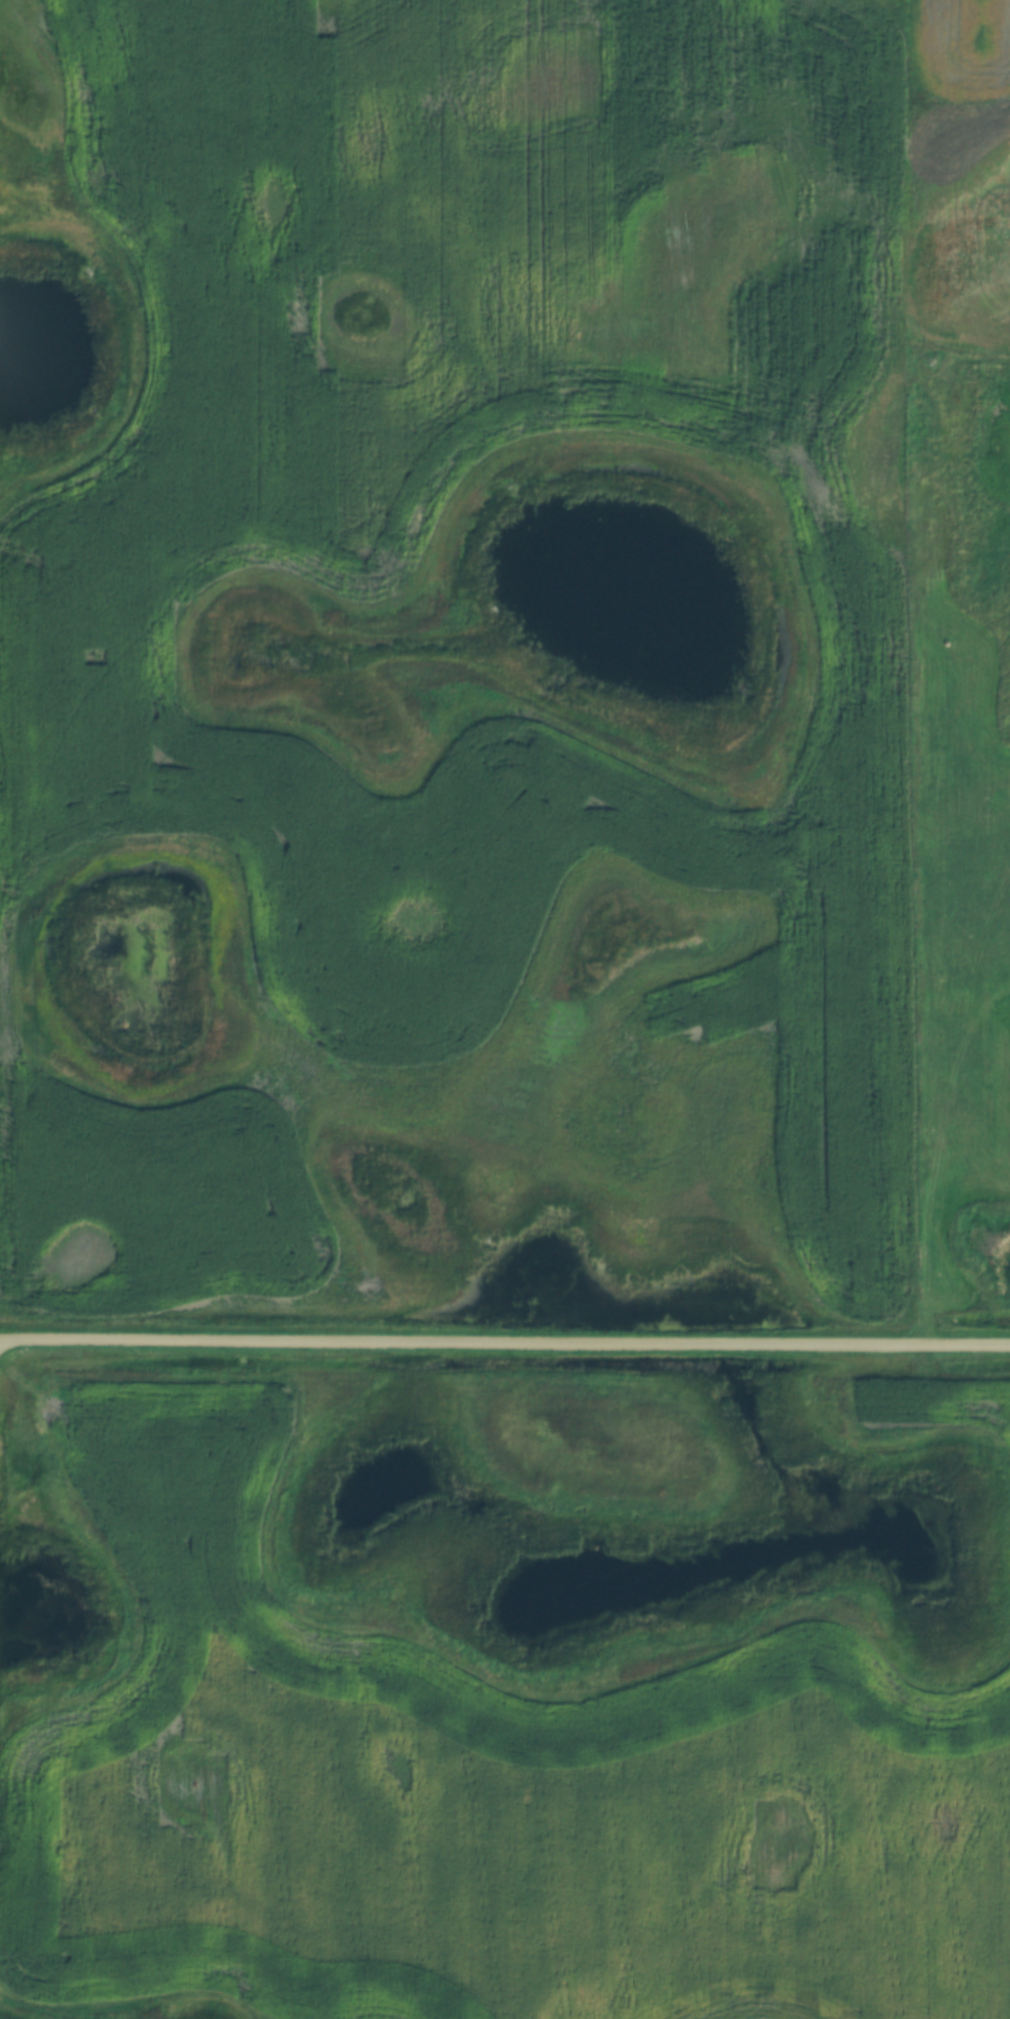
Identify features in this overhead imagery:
road: (505, 1345)

